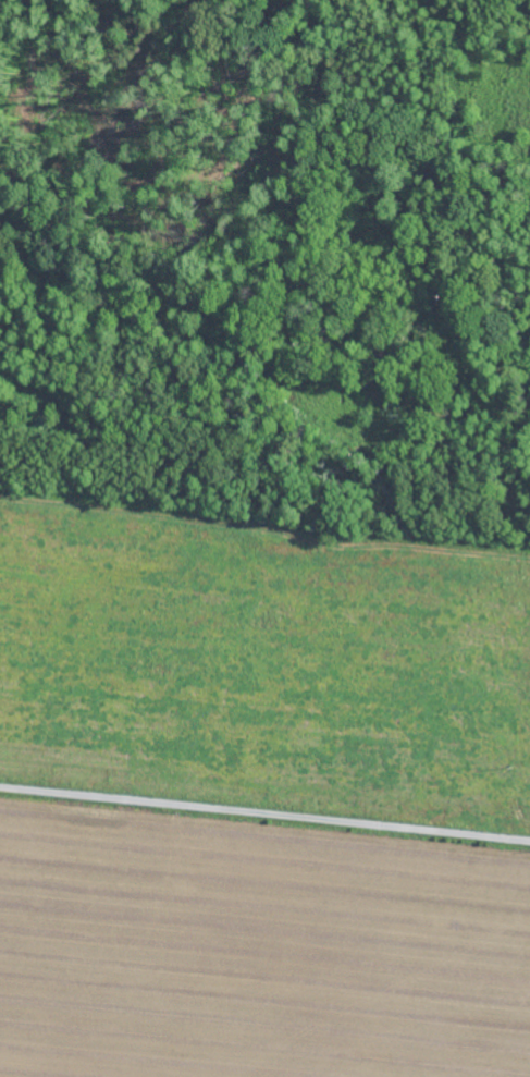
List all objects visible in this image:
road: (264, 811)

